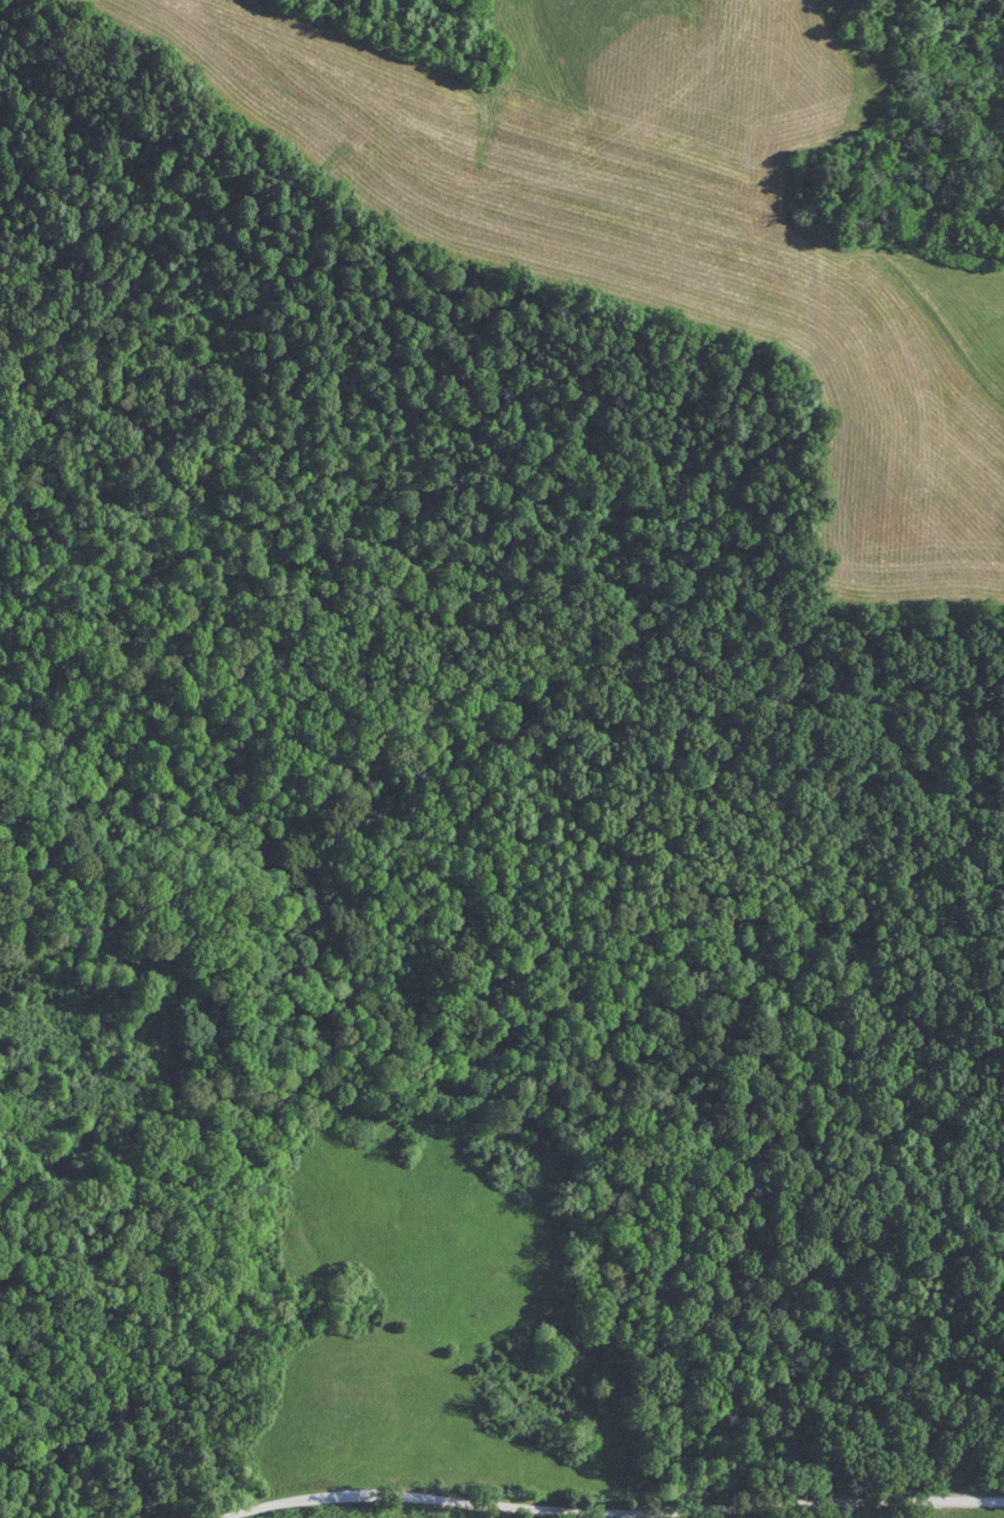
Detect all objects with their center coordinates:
road: (610, 1512)

